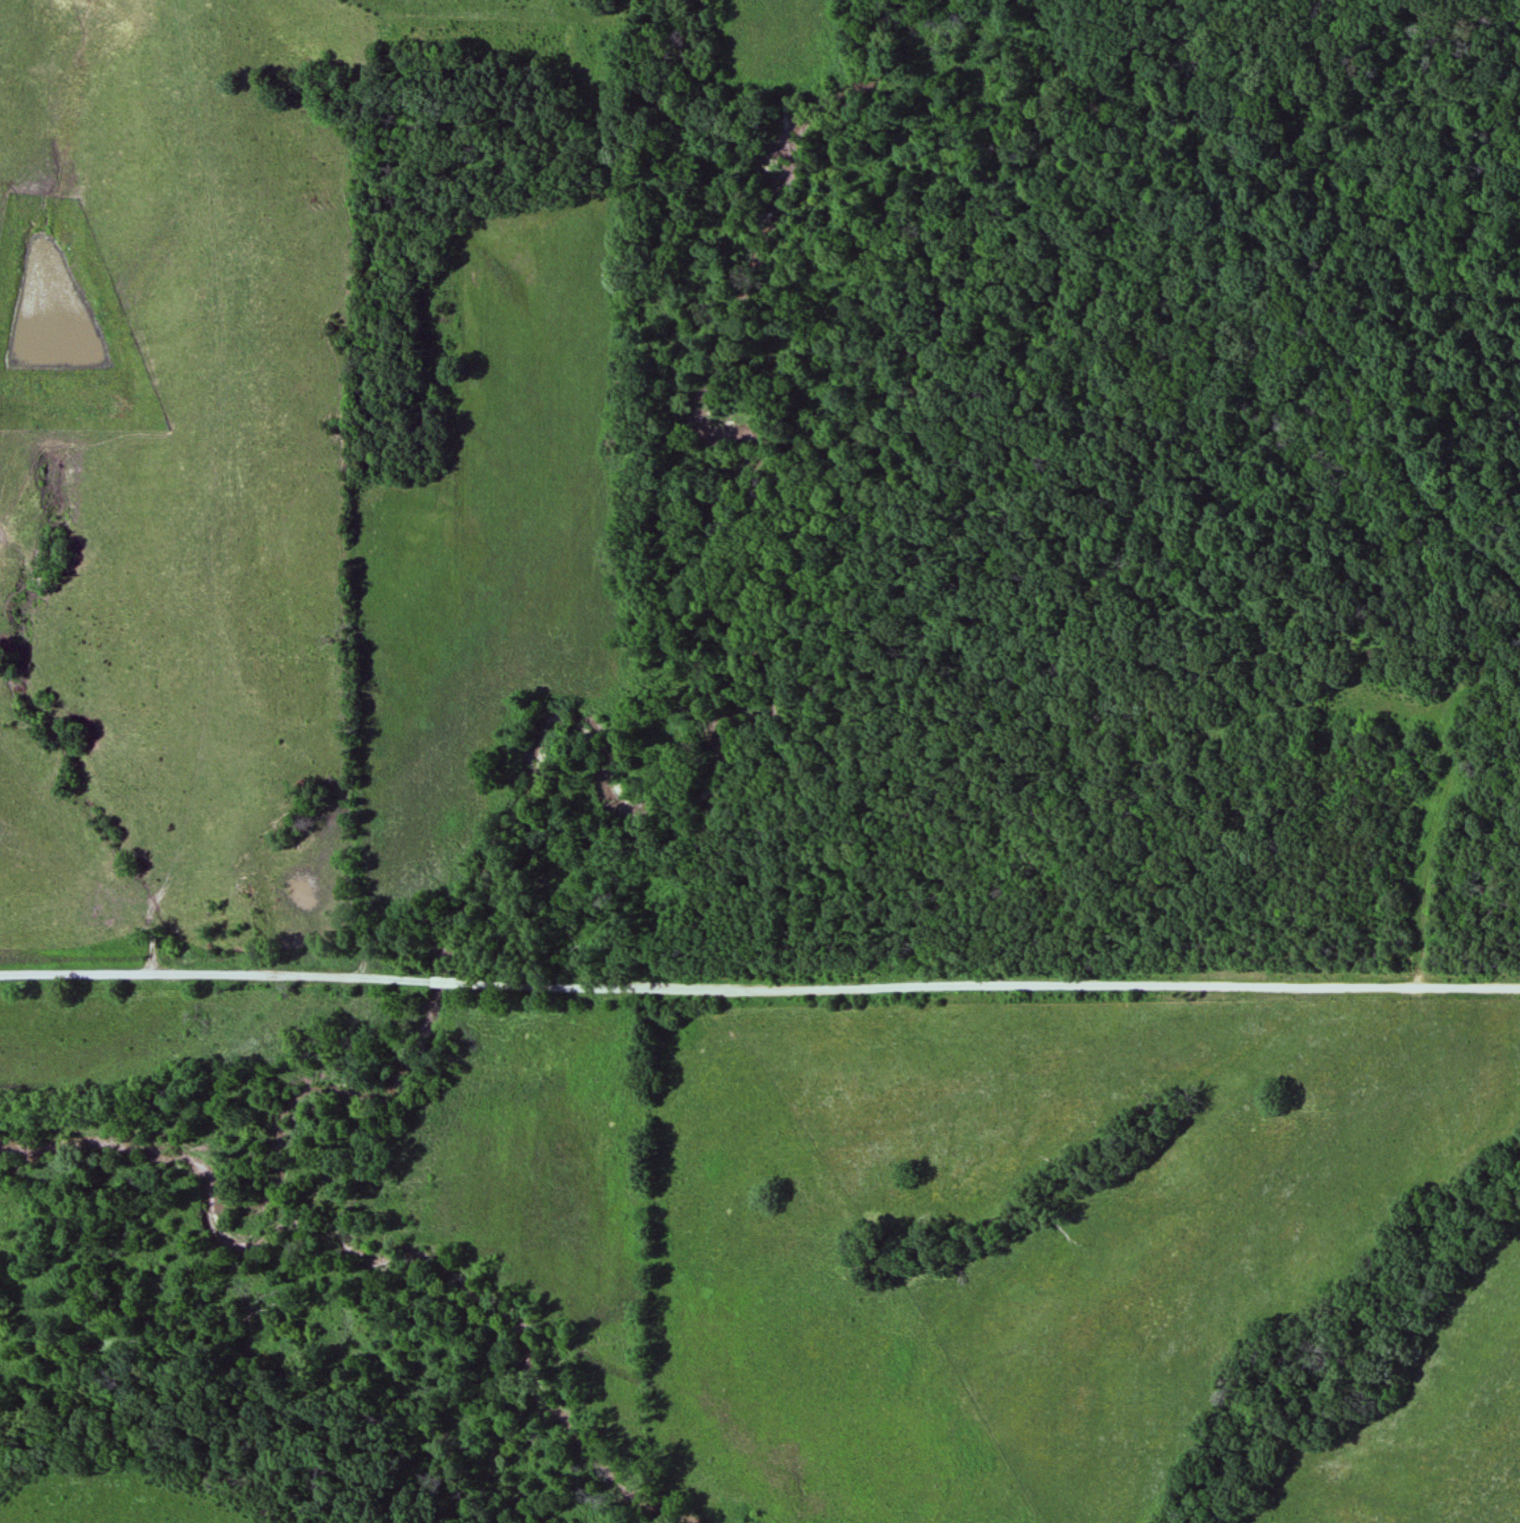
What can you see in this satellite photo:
road: (759, 986)

